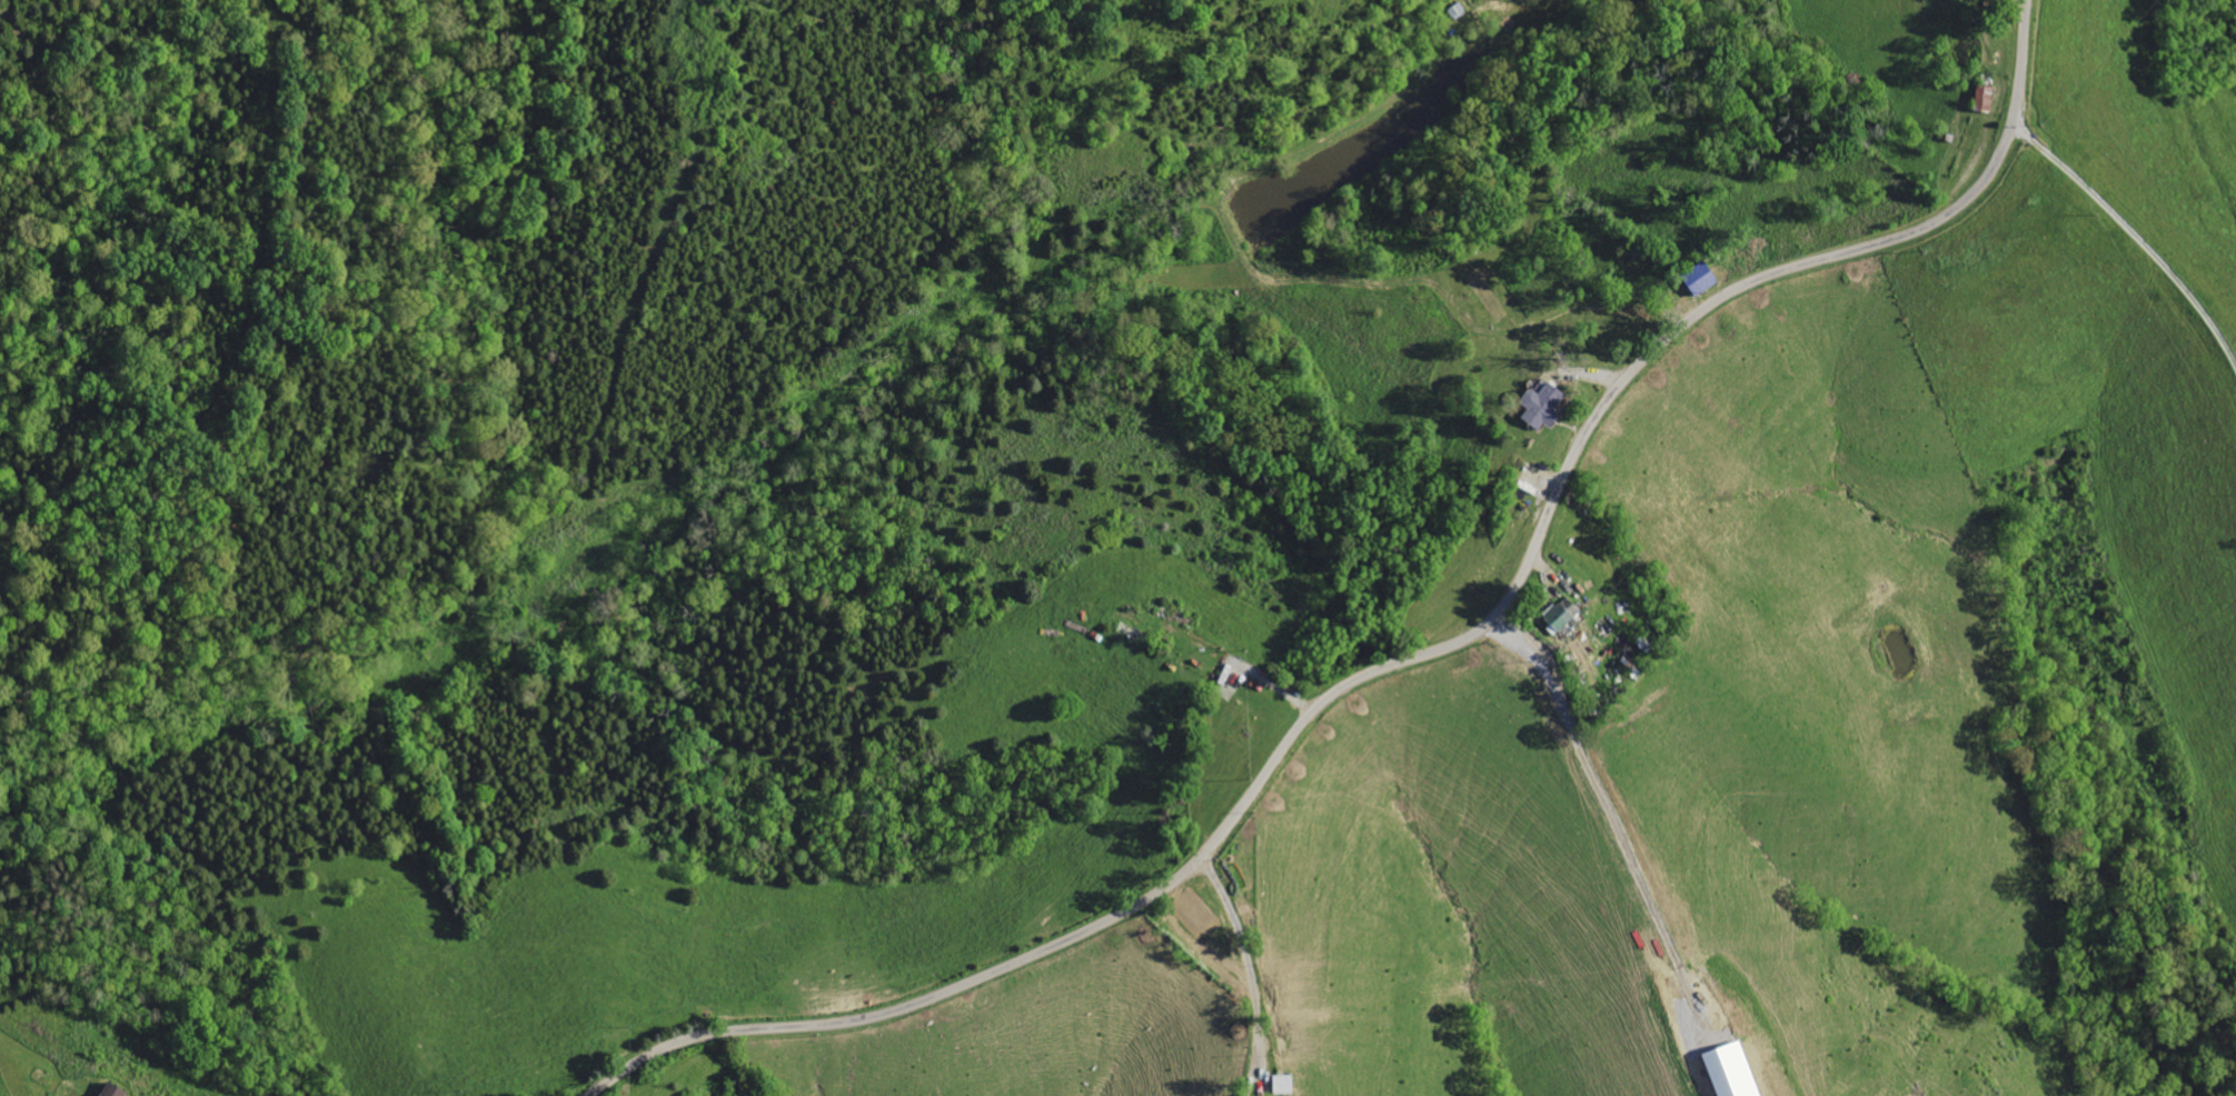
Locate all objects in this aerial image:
building: (1984, 98)
road: (2133, 236)
building: (1701, 279)
building: (1542, 405)
building: (1560, 616)
road: (1413, 657)
road: (1616, 844)
road: (1250, 965)
building: (112, 1090)

